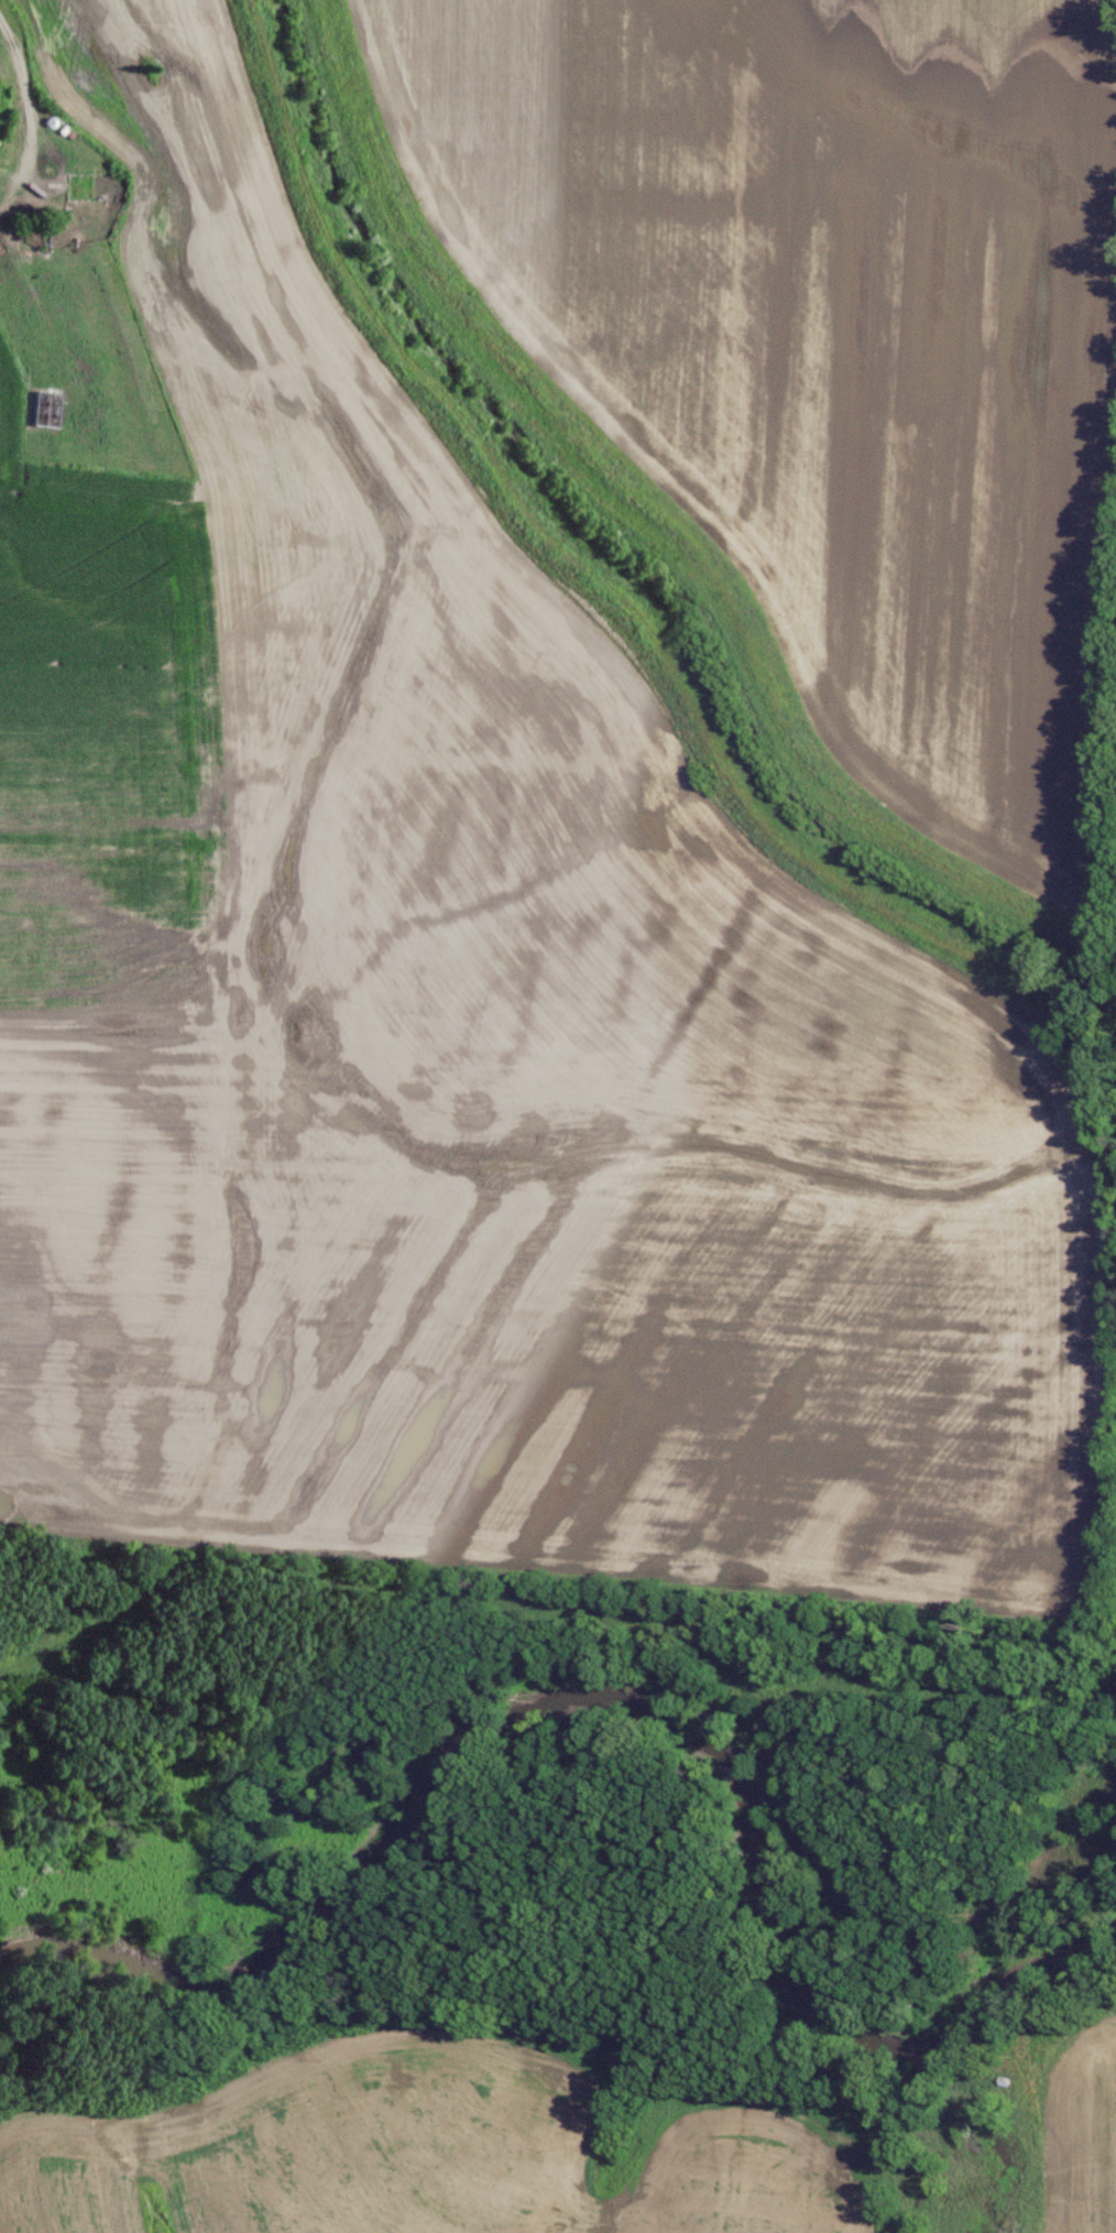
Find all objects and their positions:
building: (81, 187)
building: (44, 410)

